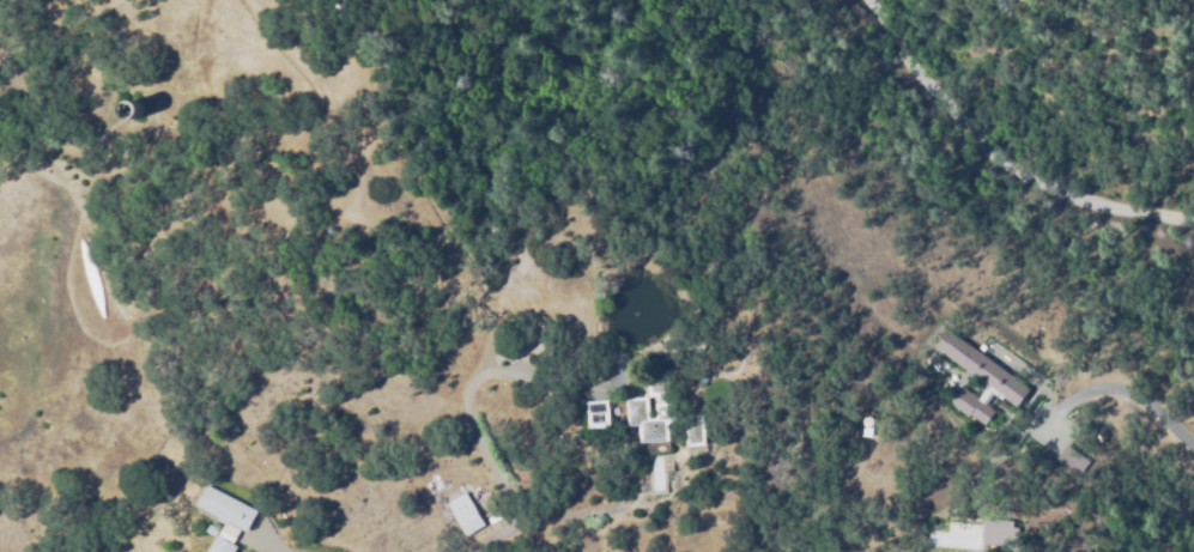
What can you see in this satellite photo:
building: (129, 109)
road: (1000, 154)
building: (693, 345)
building: (982, 366)
road: (1138, 393)
building: (971, 406)
building: (600, 408)
building: (637, 410)
road: (469, 417)
building: (692, 432)
building: (1068, 459)
building: (466, 514)
building: (226, 517)
building: (212, 530)
building: (994, 530)
road: (274, 546)

